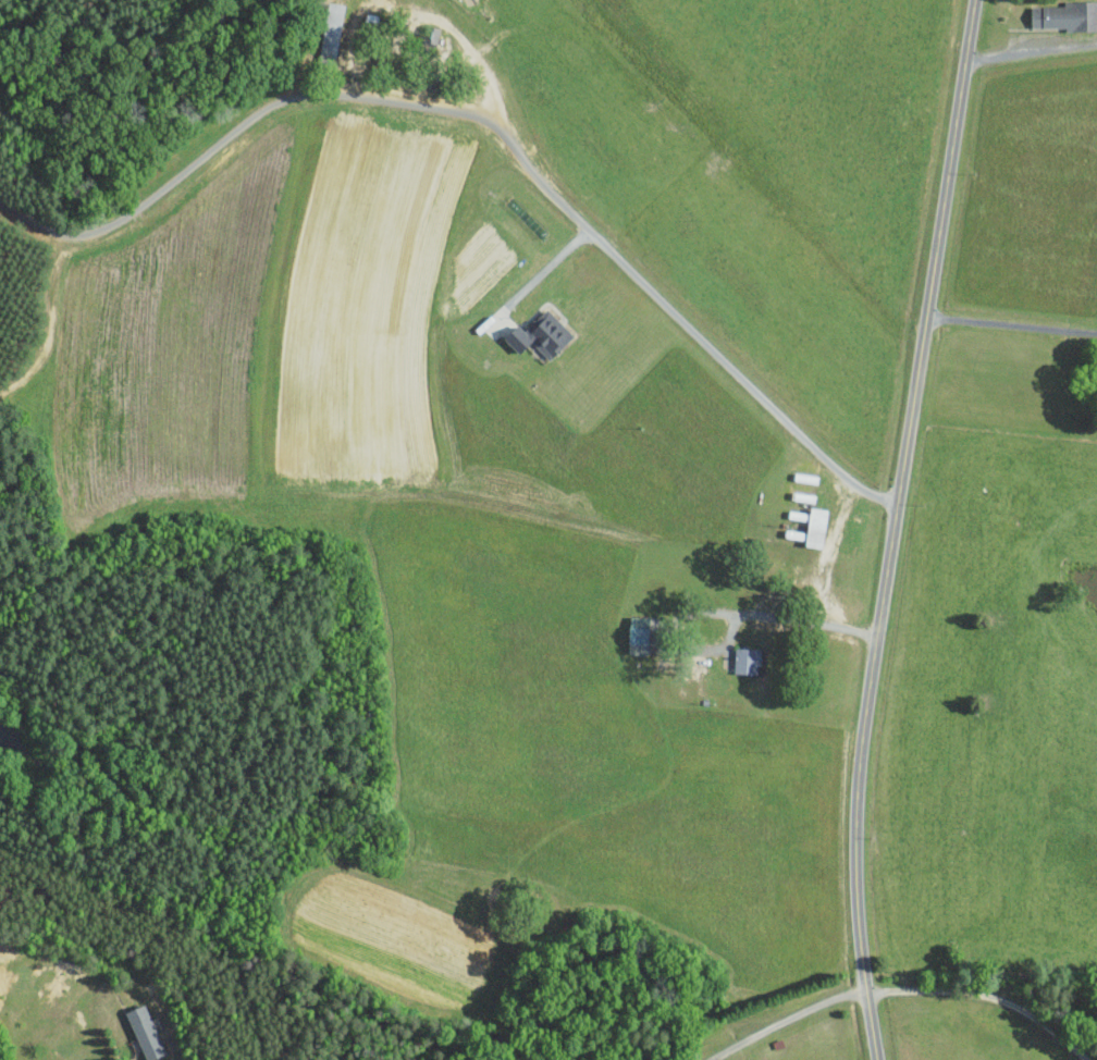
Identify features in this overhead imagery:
building: (1065, 14)
road: (461, 39)
road: (1032, 50)
road: (541, 180)
road: (61, 232)
road: (548, 267)
road: (1012, 322)
building: (540, 334)
building: (815, 527)
road: (895, 528)
road: (766, 613)
road: (731, 628)
building: (637, 634)
building: (745, 661)
road: (1021, 667)
road: (988, 995)
road: (786, 1019)
building: (144, 1033)

